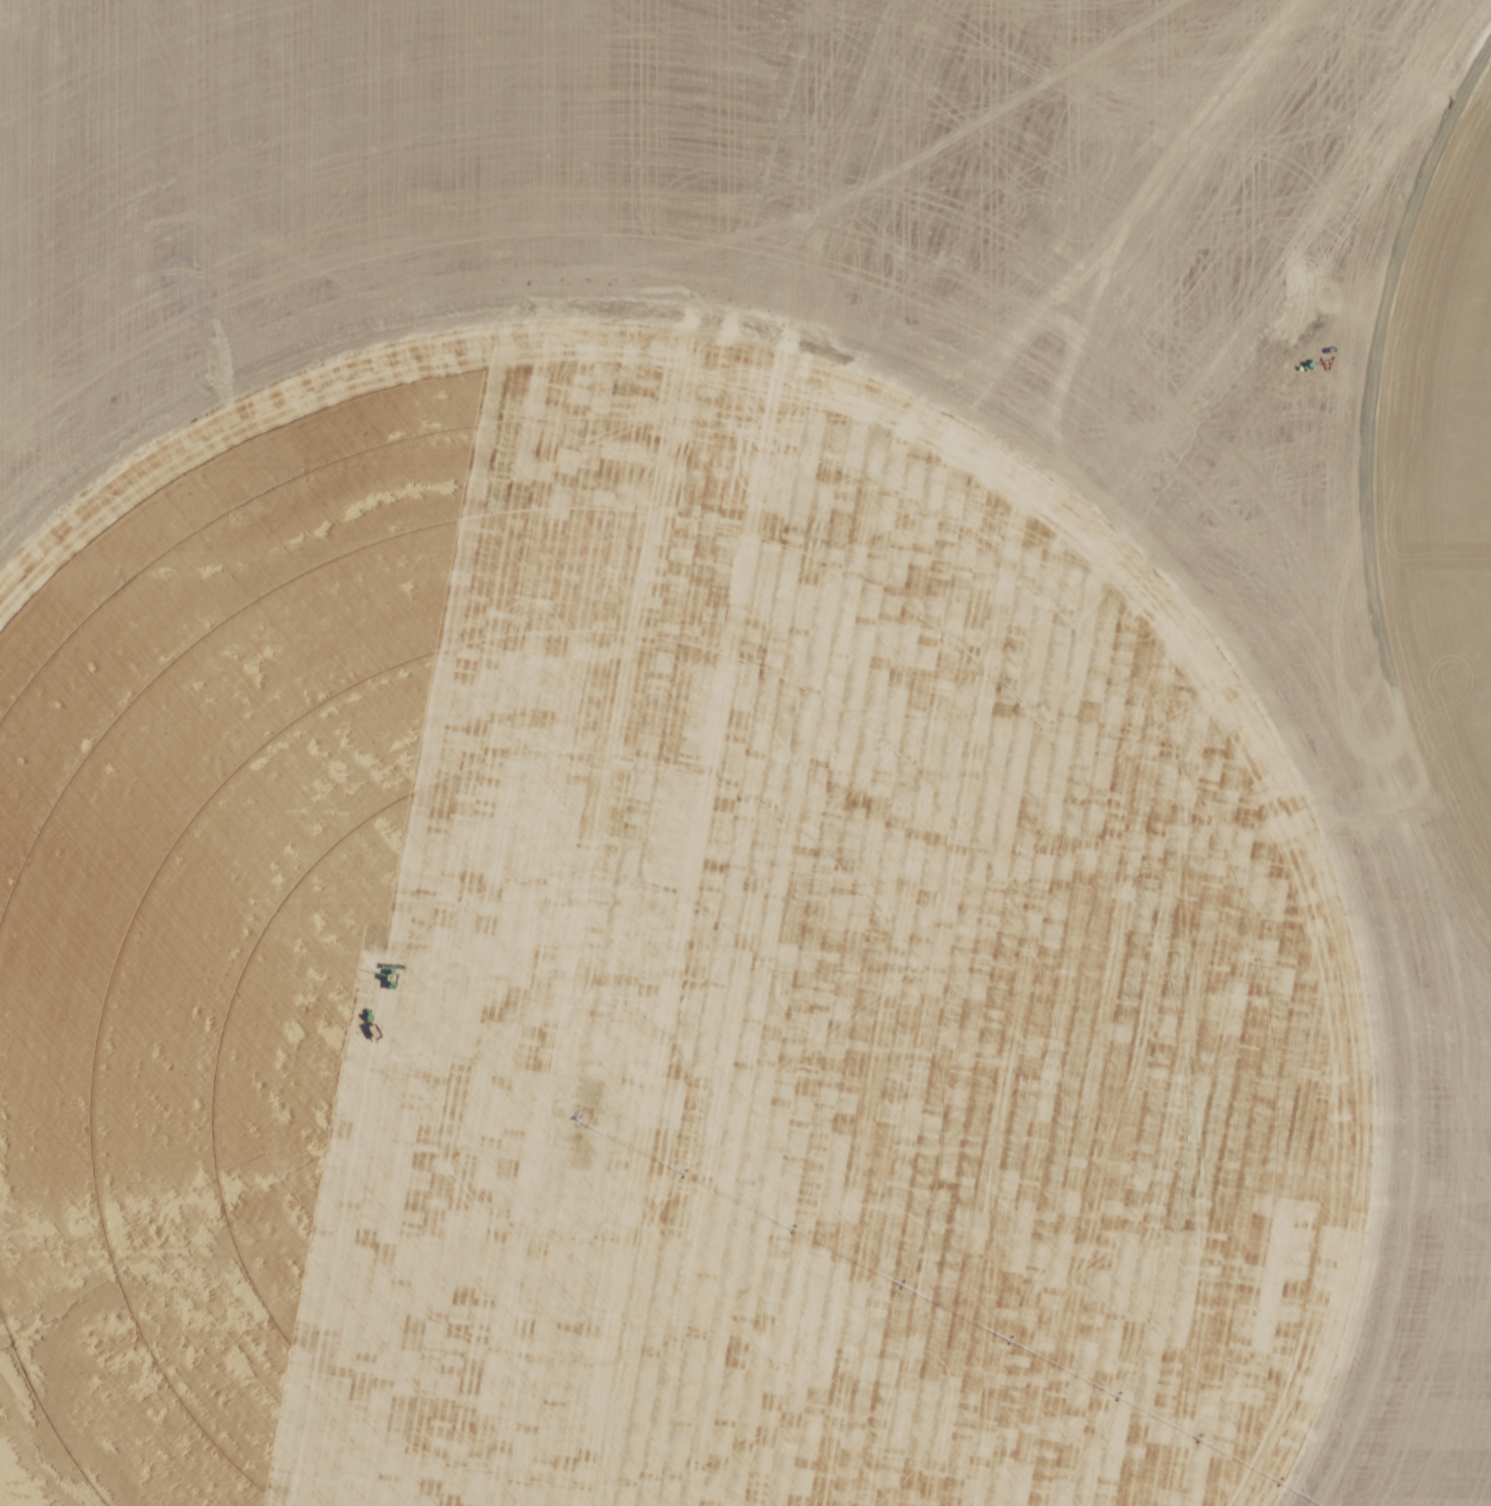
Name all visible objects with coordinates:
crop: (1448, 462)

